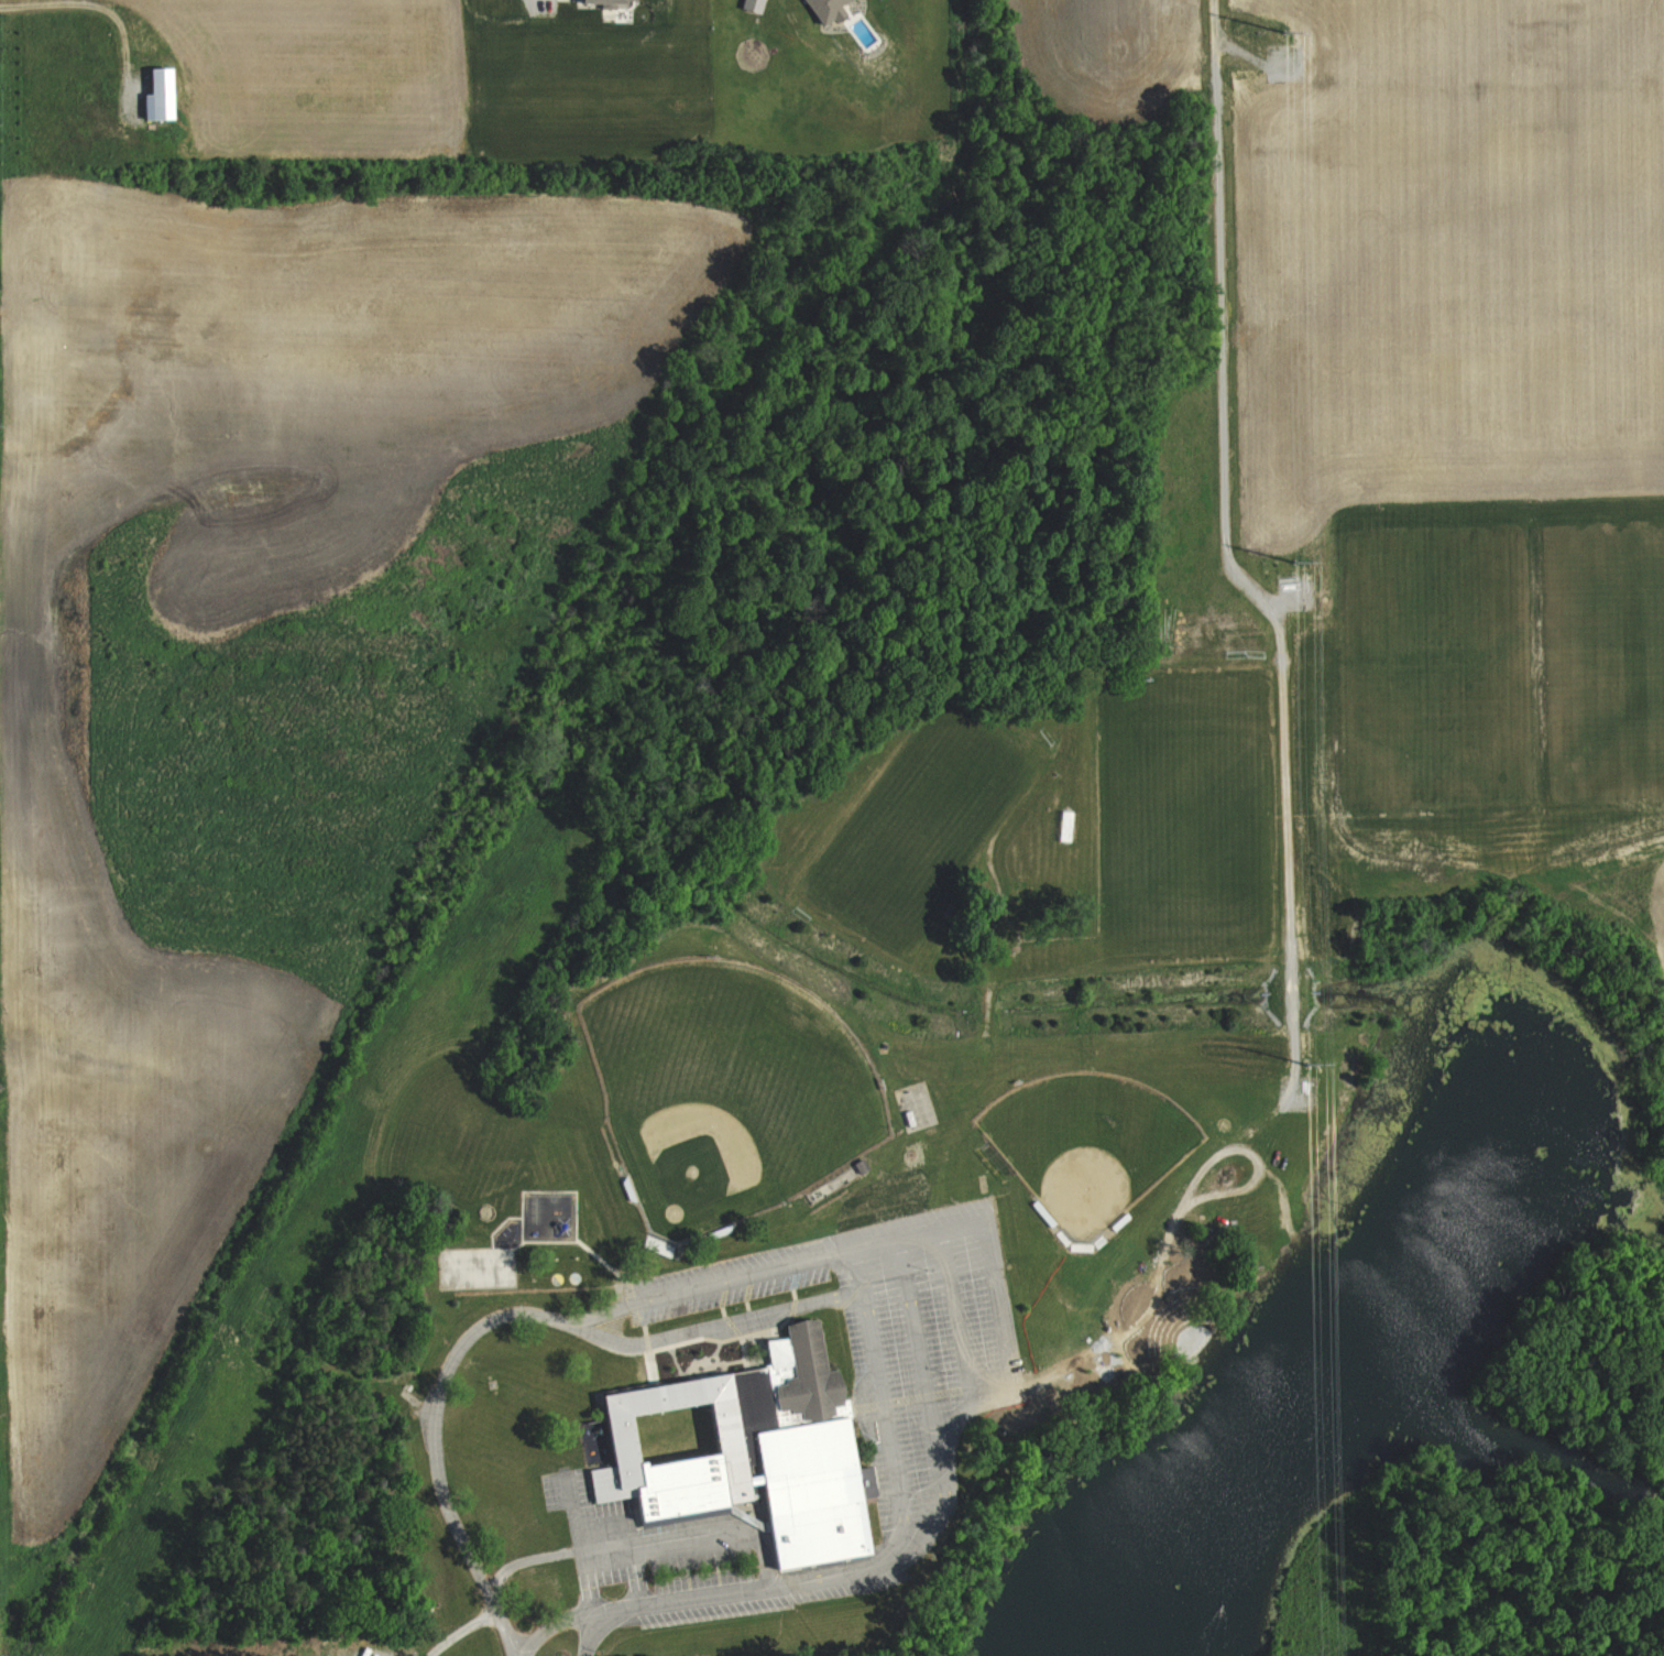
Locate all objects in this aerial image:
building: (609, 1)
road: (90, 4)
power tower: (1283, 31)
power tower: (1295, 563)
power tower: (1306, 1064)
road: (860, 1267)
road: (846, 1288)
road: (670, 1293)
building: (707, 1355)
building: (749, 1451)
road: (642, 1533)
road: (759, 1587)
road: (555, 1625)
road: (592, 1634)

